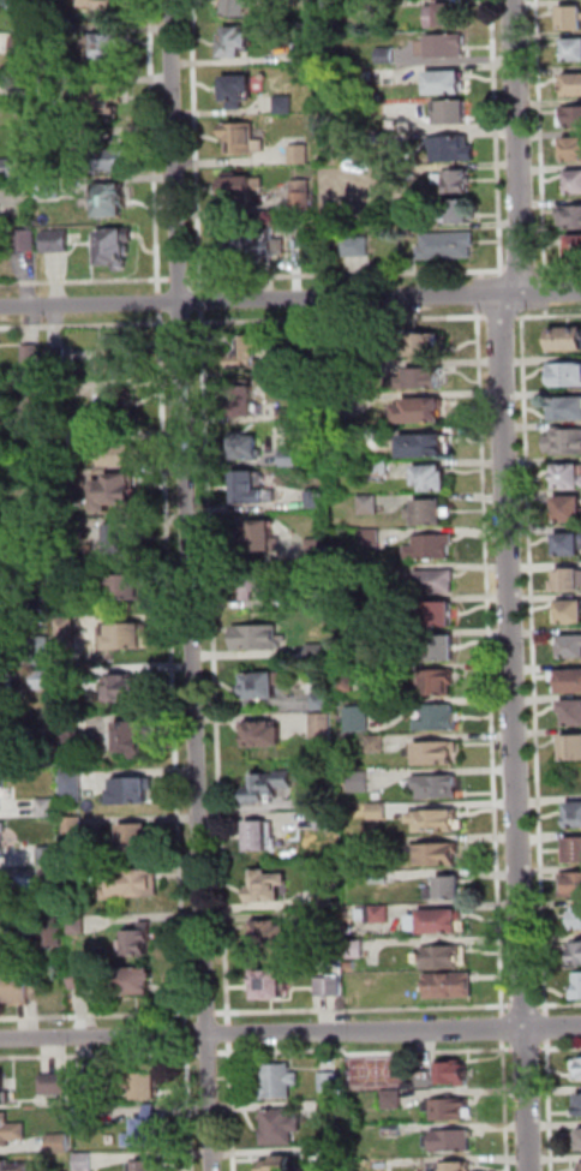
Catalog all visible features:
building: (23, 5)
building: (108, 6)
building: (239, 8)
building: (445, 17)
building: (571, 19)
building: (47, 34)
building: (235, 43)
building: (108, 47)
building: (445, 47)
building: (22, 49)
building: (573, 50)
building: (301, 53)
building: (387, 54)
building: (448, 84)
building: (48, 86)
building: (570, 86)
building: (238, 91)
building: (107, 98)
building: (283, 104)
building: (451, 112)
building: (570, 118)
building: (49, 139)
building: (241, 141)
road: (516, 144)
road: (196, 145)
road: (154, 147)
building: (453, 151)
building: (573, 151)
building: (300, 155)
building: (394, 157)
building: (113, 161)
building: (7, 168)
building: (396, 174)
building: (455, 183)
building: (574, 183)
building: (54, 190)
building: (240, 192)
building: (301, 197)
building: (113, 202)
building: (461, 213)
building: (571, 219)
building: (400, 222)
building: (28, 241)
building: (59, 243)
building: (253, 244)
building: (358, 247)
building: (448, 247)
building: (574, 249)
building: (115, 250)
road: (479, 271)
road: (503, 271)
road: (513, 271)
road: (480, 275)
road: (179, 280)
road: (85, 282)
road: (540, 291)
road: (478, 292)
road: (250, 298)
road: (202, 300)
road: (545, 300)
road: (160, 303)
road: (545, 312)
road: (547, 316)
road: (501, 317)
road: (336, 319)
road: (181, 324)
road: (85, 325)
building: (567, 341)
building: (310, 345)
building: (424, 347)
building: (31, 354)
building: (248, 354)
building: (59, 359)
building: (120, 360)
building: (378, 370)
building: (567, 376)
building: (421, 380)
building: (60, 392)
building: (245, 404)
building: (122, 406)
building: (568, 411)
building: (423, 412)
building: (288, 416)
building: (36, 420)
building: (64, 440)
building: (375, 441)
building: (564, 442)
building: (426, 448)
building: (247, 450)
building: (122, 456)
building: (289, 459)
building: (29, 465)
building: (379, 472)
building: (569, 479)
building: (432, 480)
building: (64, 485)
building: (250, 491)
building: (118, 492)
building: (316, 501)
building: (370, 506)
building: (38, 510)
building: (570, 512)
building: (430, 515)
building: (124, 540)
building: (259, 540)
building: (371, 540)
building: (569, 548)
building: (431, 549)
building: (317, 550)
building: (40, 554)
building: (384, 570)
building: (67, 576)
building: (258, 581)
building: (436, 582)
building: (568, 582)
road: (190, 585)
building: (125, 590)
building: (317, 602)
building: (41, 605)
building: (384, 607)
building: (568, 614)
building: (439, 617)
building: (67, 633)
building: (127, 638)
building: (257, 639)
building: (573, 649)
building: (443, 651)
building: (42, 653)
building: (318, 653)
road: (490, 661)
road: (215, 667)
road: (533, 667)
road: (173, 669)
building: (1, 680)
building: (44, 681)
building: (71, 681)
building: (346, 681)
building: (442, 685)
building: (569, 685)
building: (264, 688)
building: (131, 692)
building: (323, 704)
building: (573, 715)
building: (358, 719)
building: (438, 721)
building: (322, 728)
road: (515, 730)
building: (72, 731)
building: (134, 737)
building: (264, 737)
building: (377, 746)
building: (571, 749)
building: (435, 755)
building: (360, 782)
building: (2, 783)
building: (73, 788)
building: (269, 788)
building: (437, 788)
building: (134, 794)
building: (0, 802)
building: (47, 808)
building: (378, 812)
building: (576, 818)
building: (327, 823)
building: (437, 824)
building: (74, 826)
building: (263, 837)
building: (2, 841)
building: (136, 841)
building: (379, 846)
building: (575, 852)
building: (48, 855)
building: (441, 855)
building: (76, 873)
building: (381, 878)
building: (53, 880)
building: (137, 884)
building: (571, 886)
building: (268, 889)
building: (448, 890)
building: (6, 892)
building: (324, 901)
building: (379, 915)
building: (576, 920)
building: (437, 925)
building: (78, 926)
building: (54, 934)
building: (272, 937)
building: (138, 942)
building: (357, 950)
building: (5, 954)
building: (575, 956)
building: (444, 958)
building: (353, 967)
building: (85, 979)
building: (137, 984)
building: (329, 987)
building: (16, 988)
building: (270, 988)
building: (450, 988)
building: (579, 988)
road: (558, 1005)
road: (523, 1006)
road: (363, 1010)
road: (206, 1014)
road: (98, 1015)
road: (503, 1022)
road: (546, 1022)
road: (228, 1029)
road: (289, 1032)
road: (187, 1035)
road: (204, 1055)
road: (100, 1057)
building: (577, 1065)
park: (377, 1073)
building: (455, 1079)
building: (278, 1083)
building: (330, 1083)
building: (86, 1085)
building: (55, 1086)
building: (149, 1089)
building: (4, 1092)
building: (394, 1101)
building: (576, 1101)
road: (190, 1107)
building: (330, 1110)
building: (450, 1111)
building: (88, 1117)
building: (280, 1128)
building: (394, 1130)
building: (11, 1131)
building: (150, 1133)
building: (579, 1136)
building: (60, 1143)
building: (451, 1143)
building: (335, 1157)
building: (85, 1161)
building: (579, 1163)
building: (280, 1164)
building: (13, 1167)
building: (149, 1167)
building: (456, 1167)

